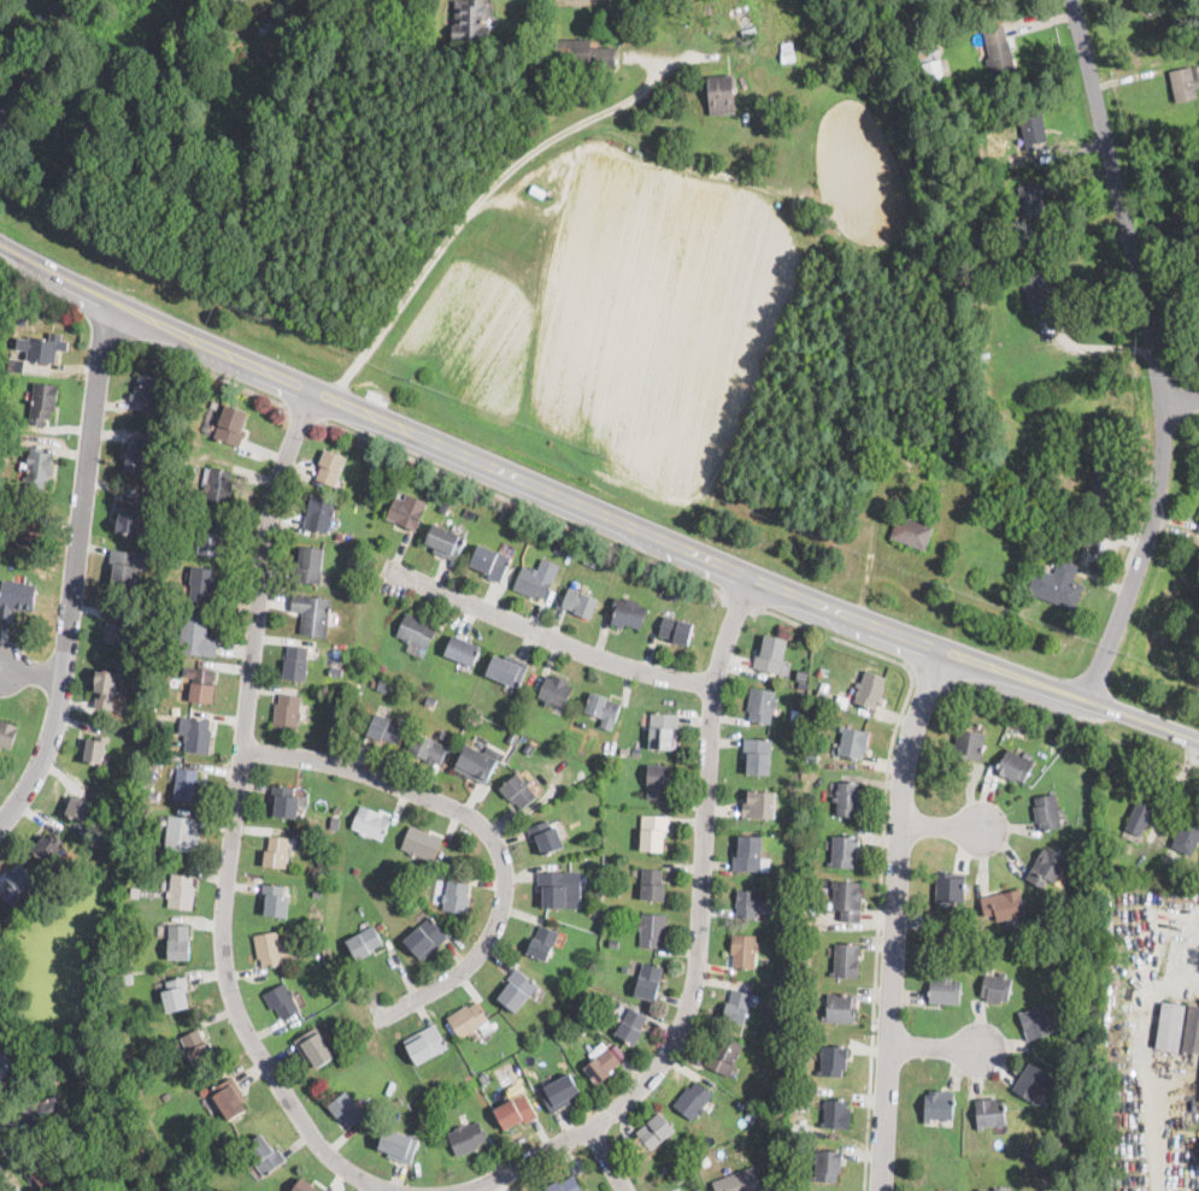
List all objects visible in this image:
building: (470, 22)
building: (277, 24)
building: (534, 26)
building: (748, 31)
building: (909, 42)
building: (787, 49)
building: (999, 51)
building: (582, 54)
building: (6, 64)
building: (933, 71)
building: (1183, 83)
building: (25, 88)
building: (721, 94)
building: (2, 116)
building: (1033, 126)
building: (1030, 199)
road: (474, 208)
building: (1035, 284)
building: (972, 296)
building: (22, 319)
building: (46, 348)
road: (1152, 352)
building: (16, 364)
road: (252, 388)
building: (146, 393)
building: (43, 402)
road: (1182, 406)
building: (186, 412)
road: (302, 417)
building: (230, 423)
building: (1083, 434)
building: (898, 435)
building: (10, 436)
building: (183, 450)
building: (135, 455)
building: (183, 464)
building: (330, 467)
building: (37, 468)
building: (375, 468)
building: (1103, 479)
building: (218, 485)
building: (383, 485)
building: (1010, 494)
building: (164, 502)
road: (522, 506)
building: (407, 511)
road: (590, 511)
building: (318, 514)
building: (1059, 514)
building: (129, 520)
building: (1198, 527)
building: (28, 531)
building: (522, 531)
building: (911, 532)
building: (339, 536)
building: (212, 537)
building: (447, 541)
building: (562, 549)
building: (167, 560)
building: (992, 560)
building: (590, 561)
building: (490, 562)
building: (307, 564)
building: (123, 567)
road: (72, 570)
building: (533, 582)
building: (200, 583)
building: (353, 583)
building: (1057, 584)
building: (674, 595)
building: (16, 596)
road: (742, 600)
building: (580, 602)
building: (628, 612)
building: (312, 613)
building: (117, 629)
building: (676, 629)
building: (415, 630)
building: (195, 637)
road: (548, 637)
building: (463, 649)
building: (770, 654)
building: (294, 662)
building: (381, 667)
building: (506, 670)
road: (30, 671)
building: (335, 672)
building: (804, 674)
building: (199, 684)
building: (376, 684)
building: (803, 685)
building: (105, 688)
building: (870, 689)
building: (552, 691)
building: (430, 701)
building: (760, 704)
building: (335, 706)
building: (603, 709)
building: (287, 712)
building: (384, 729)
building: (662, 730)
building: (7, 733)
building: (198, 736)
building: (511, 738)
building: (157, 742)
building: (853, 742)
building: (969, 743)
building: (428, 748)
building: (94, 749)
building: (528, 749)
building: (636, 751)
building: (757, 755)
building: (157, 757)
building: (606, 761)
building: (476, 765)
building: (1013, 766)
building: (619, 770)
road: (1182, 772)
building: (592, 782)
building: (657, 782)
building: (186, 784)
building: (518, 790)
building: (593, 792)
building: (153, 795)
building: (810, 795)
building: (847, 798)
building: (284, 802)
building: (758, 804)
building: (80, 808)
building: (336, 808)
building: (1047, 812)
building: (316, 814)
building: (1140, 815)
building: (335, 821)
building: (370, 823)
road: (231, 824)
road: (480, 825)
road: (939, 826)
building: (653, 832)
building: (181, 833)
building: (546, 837)
building: (1186, 837)
building: (616, 842)
building: (421, 843)
road: (883, 847)
building: (47, 848)
building: (845, 851)
building: (276, 853)
building: (747, 854)
building: (793, 861)
building: (764, 865)
building: (1047, 867)
building: (390, 868)
building: (355, 871)
building: (807, 878)
building: (583, 879)
building: (396, 882)
building: (651, 884)
building: (17, 885)
building: (557, 886)
building: (599, 886)
building: (950, 889)
building: (181, 891)
building: (134, 892)
building: (615, 892)
building: (316, 894)
building: (455, 897)
building: (847, 900)
building: (275, 901)
building: (753, 902)
building: (1004, 904)
building: (594, 910)
building: (18, 912)
road: (897, 919)
building: (380, 926)
building: (792, 927)
building: (615, 928)
building: (651, 930)
building: (960, 932)
building: (425, 938)
building: (178, 942)
building: (365, 942)
building: (542, 943)
building: (613, 943)
road: (697, 943)
building: (269, 948)
building: (744, 950)
building: (1042, 954)
building: (846, 961)
building: (128, 965)
building: (624, 969)
road: (1198, 969)
building: (782, 972)
building: (128, 978)
building: (571, 980)
building: (647, 980)
building: (997, 987)
building: (516, 989)
building: (945, 991)
building: (175, 994)
building: (281, 1000)
building: (600, 1002)
building: (736, 1006)
building: (840, 1008)
building: (466, 1019)
building: (801, 1019)
building: (577, 1020)
building: (1035, 1021)
building: (630, 1025)
building: (1170, 1026)
building: (1192, 1030)
building: (807, 1037)
building: (781, 1040)
building: (425, 1044)
building: (198, 1045)
building: (313, 1046)
road: (935, 1048)
building: (724, 1055)
building: (833, 1060)
building: (601, 1065)
building: (5, 1067)
building: (484, 1078)
building: (1034, 1081)
building: (205, 1090)
building: (806, 1091)
building: (558, 1092)
building: (166, 1095)
building: (229, 1097)
building: (692, 1099)
building: (211, 1103)
building: (939, 1105)
building: (347, 1109)
building: (43, 1110)
building: (516, 1110)
building: (751, 1110)
building: (989, 1113)
building: (836, 1114)
building: (453, 1120)
building: (1078, 1128)
building: (654, 1131)
building: (792, 1131)
building: (466, 1138)
building: (398, 1145)
building: (687, 1148)
building: (1027, 1149)
building: (263, 1154)
road: (606, 1158)
building: (705, 1162)
building: (827, 1165)
building: (1035, 1166)
building: (47, 1177)
building: (739, 1181)
building: (564, 1184)
building: (304, 1186)
road: (374, 1189)
building: (995, 1189)
building: (699, 1190)
building: (924, 1190)
building: (983, 1190)

